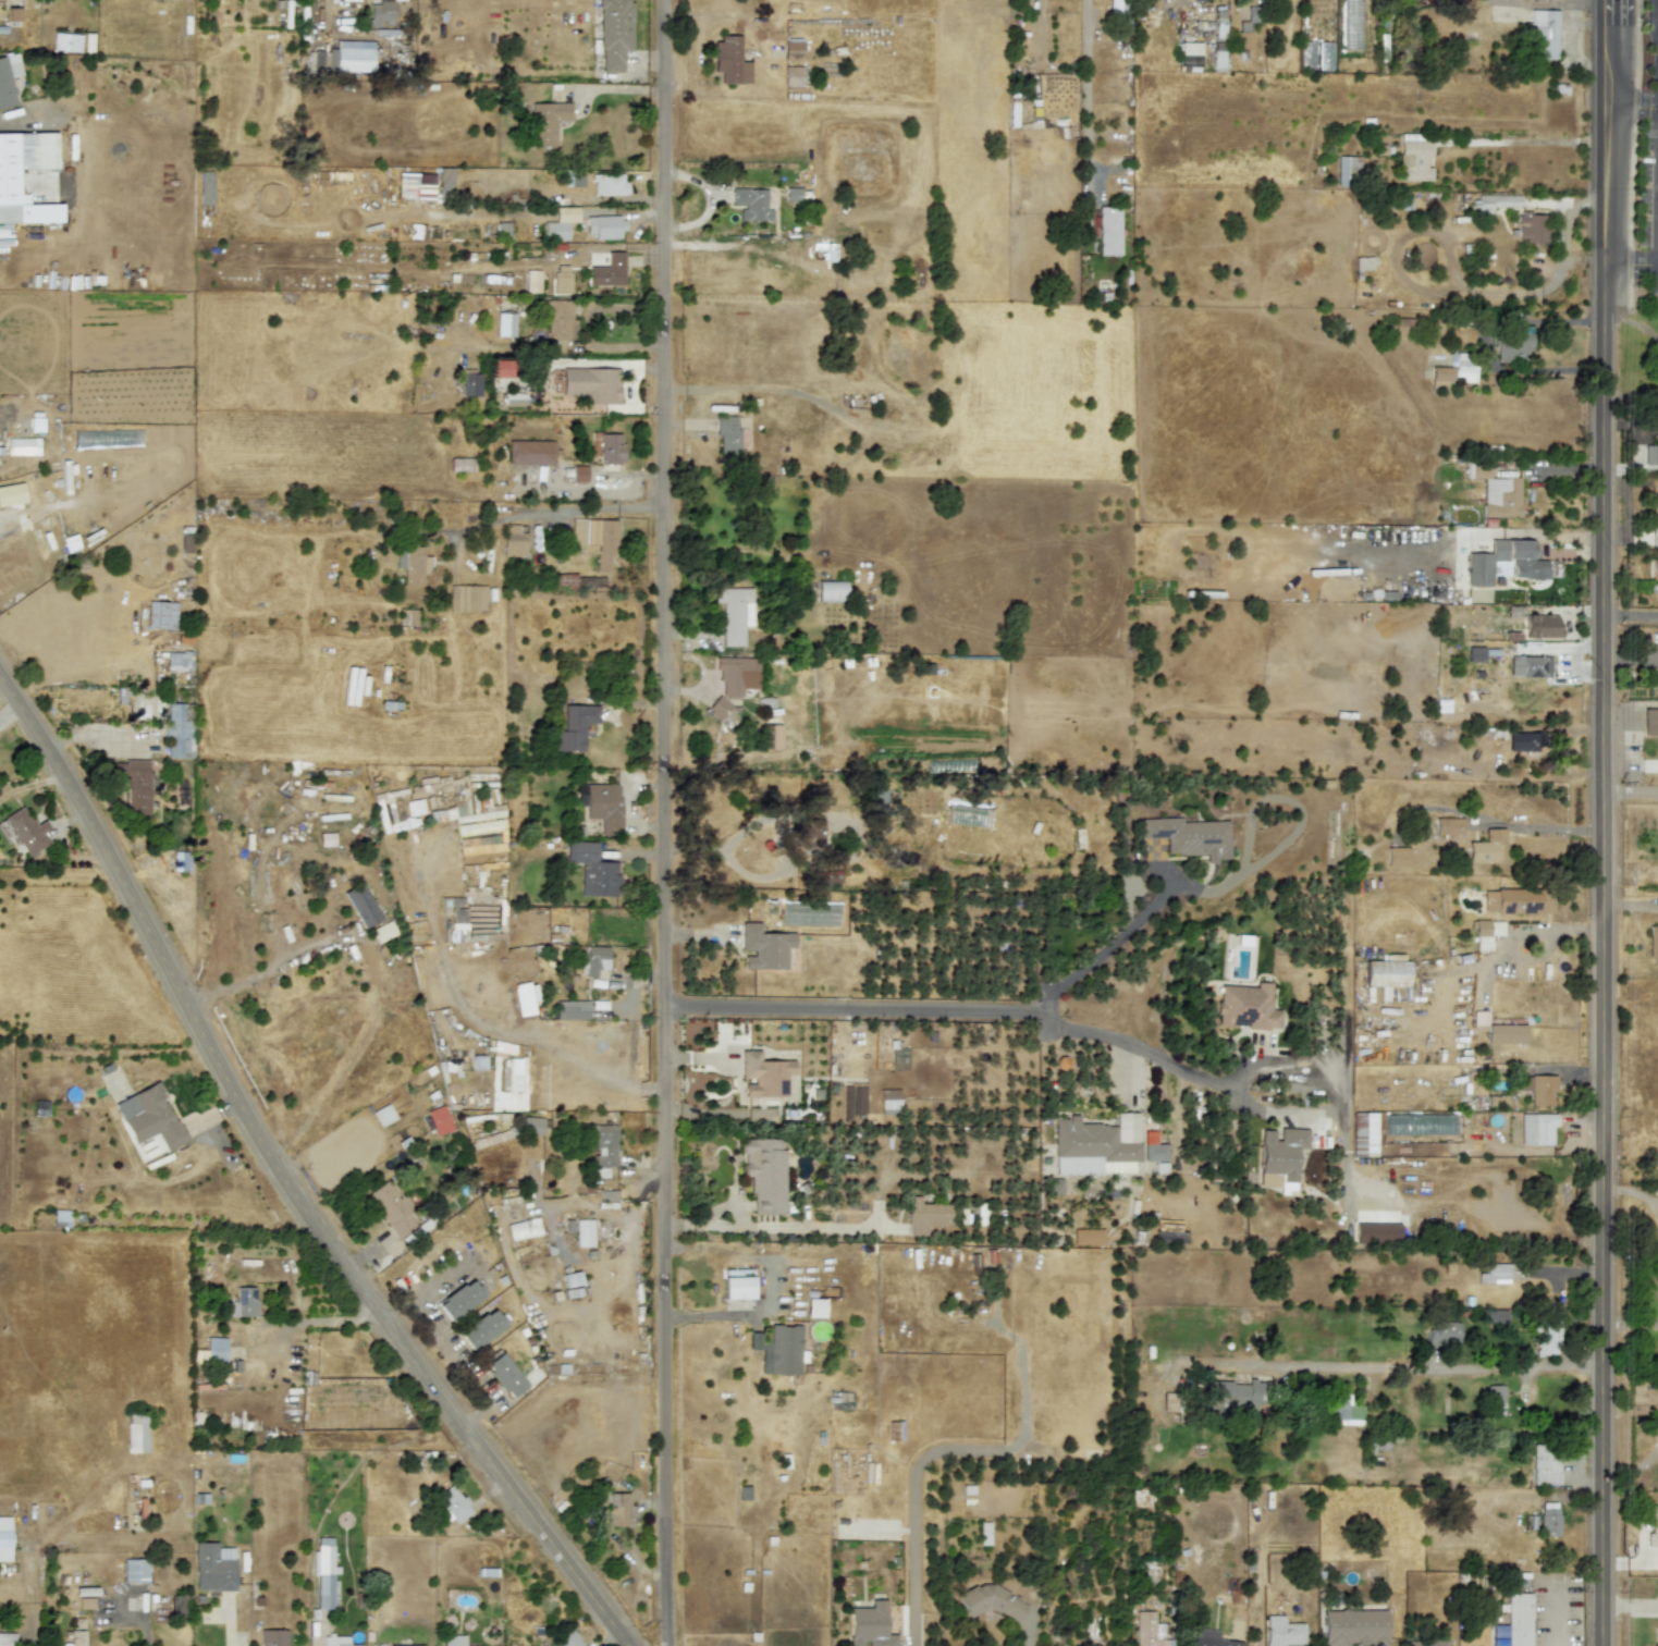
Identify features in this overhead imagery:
parking lot: (1651, 1)
building: (381, 13)
building: (1218, 23)
building: (614, 33)
building: (1544, 34)
building: (1243, 39)
building: (65, 41)
building: (793, 50)
building: (354, 56)
building: (1189, 56)
building: (729, 60)
building: (793, 74)
road: (1085, 85)
road: (1632, 107)
building: (546, 122)
road: (1646, 133)
road: (1508, 140)
road: (1632, 156)
building: (1413, 158)
building: (1348, 170)
building: (444, 181)
building: (609, 184)
building: (415, 185)
parking lot: (1648, 194)
building: (751, 202)
building: (1493, 204)
building: (558, 223)
building: (603, 226)
building: (1532, 226)
building: (1108, 230)
building: (607, 270)
road: (1632, 272)
building: (562, 279)
building: (531, 281)
building: (560, 318)
building: (505, 323)
building: (1514, 345)
building: (1463, 366)
building: (1440, 377)
building: (591, 383)
building: (470, 384)
road: (794, 391)
road: (1632, 423)
building: (726, 435)
building: (611, 447)
building: (530, 452)
building: (1650, 453)
building: (579, 472)
building: (1495, 491)
building: (11, 493)
road: (580, 509)
building: (1655, 518)
building: (513, 540)
building: (597, 541)
building: (412, 564)
building: (1654, 568)
building: (830, 590)
building: (467, 598)
building: (734, 613)
road: (1632, 614)
building: (160, 615)
building: (1540, 625)
building: (1475, 653)
building: (179, 661)
building: (1528, 665)
building: (737, 675)
building: (717, 707)
building: (1650, 721)
building: (574, 726)
building: (179, 729)
building: (773, 736)
building: (1531, 742)
building: (133, 783)
road: (1631, 790)
building: (601, 804)
building: (1657, 818)
road: (666, 823)
road: (1602, 823)
building: (1447, 825)
building: (23, 831)
building: (812, 832)
building: (1189, 836)
building: (1488, 846)
building: (1397, 857)
building: (181, 861)
building: (592, 869)
building: (1516, 900)
building: (361, 905)
building: (1485, 932)
building: (1654, 945)
building: (764, 946)
building: (594, 959)
road: (265, 968)
building: (1386, 972)
building: (1245, 1006)
road: (851, 1007)
building: (572, 1009)
road: (488, 1022)
building: (1505, 1033)
road: (1179, 1068)
building: (764, 1074)
building: (1538, 1089)
building: (507, 1100)
building: (888, 1100)
building: (148, 1116)
building: (439, 1120)
building: (531, 1127)
building: (1536, 1128)
building: (1363, 1133)
building: (1096, 1144)
building: (603, 1148)
building: (1154, 1150)
building: (1280, 1157)
building: (764, 1174)
road: (285, 1178)
building: (391, 1208)
building: (925, 1215)
building: (61, 1217)
building: (523, 1228)
building: (582, 1232)
building: (1086, 1236)
building: (1169, 1236)
building: (1494, 1273)
road: (440, 1278)
building: (570, 1278)
road: (769, 1285)
building: (738, 1287)
building: (458, 1299)
building: (243, 1301)
building: (814, 1306)
building: (1494, 1315)
building: (481, 1328)
building: (1442, 1332)
building: (1547, 1338)
building: (214, 1347)
road: (447, 1349)
building: (781, 1350)
road: (1418, 1368)
building: (504, 1374)
building: (1236, 1395)
building: (1495, 1396)
building: (1344, 1410)
building: (136, 1432)
building: (1544, 1463)
building: (451, 1503)
building: (618, 1509)
road: (914, 1515)
building: (1547, 1518)
building: (1653, 1526)
building: (4, 1538)
building: (212, 1565)
building: (135, 1570)
building: (323, 1572)
building: (990, 1599)
building: (84, 1601)
building: (1514, 1620)
road: (1555, 1620)
building: (869, 1625)
building: (1353, 1626)
building: (1147, 1630)
building: (1282, 1631)
building: (75, 1632)
building: (1656, 1636)
building: (272, 1637)
building: (7, 1638)
building: (1211, 1638)
building: (453, 1639)
building: (568, 1639)
building: (337, 1641)
building: (1428, 1641)
building: (406, 1645)

